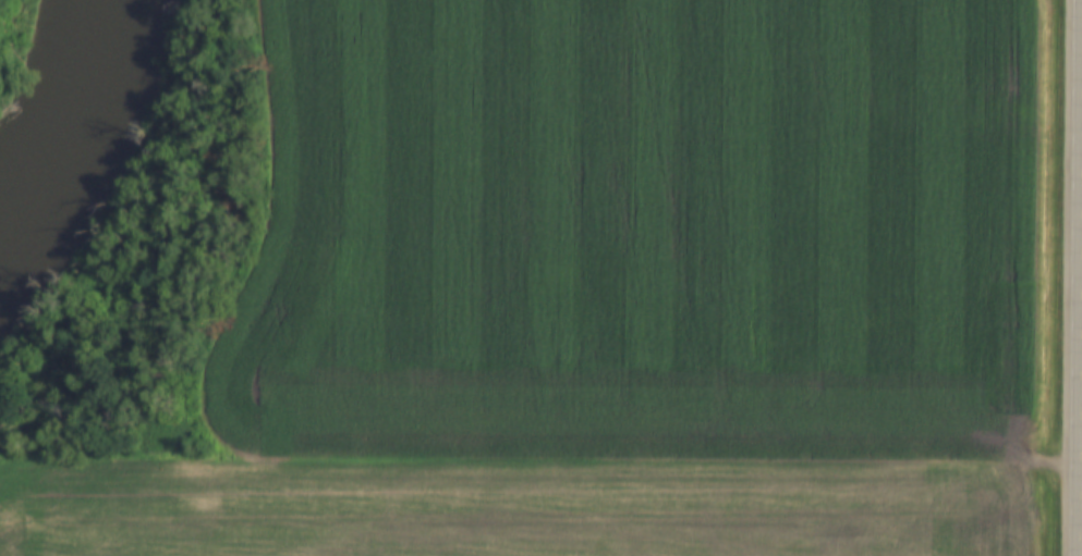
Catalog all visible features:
river: (60, 120)
crop: (637, 228)
road: (1075, 277)
crop: (520, 503)

